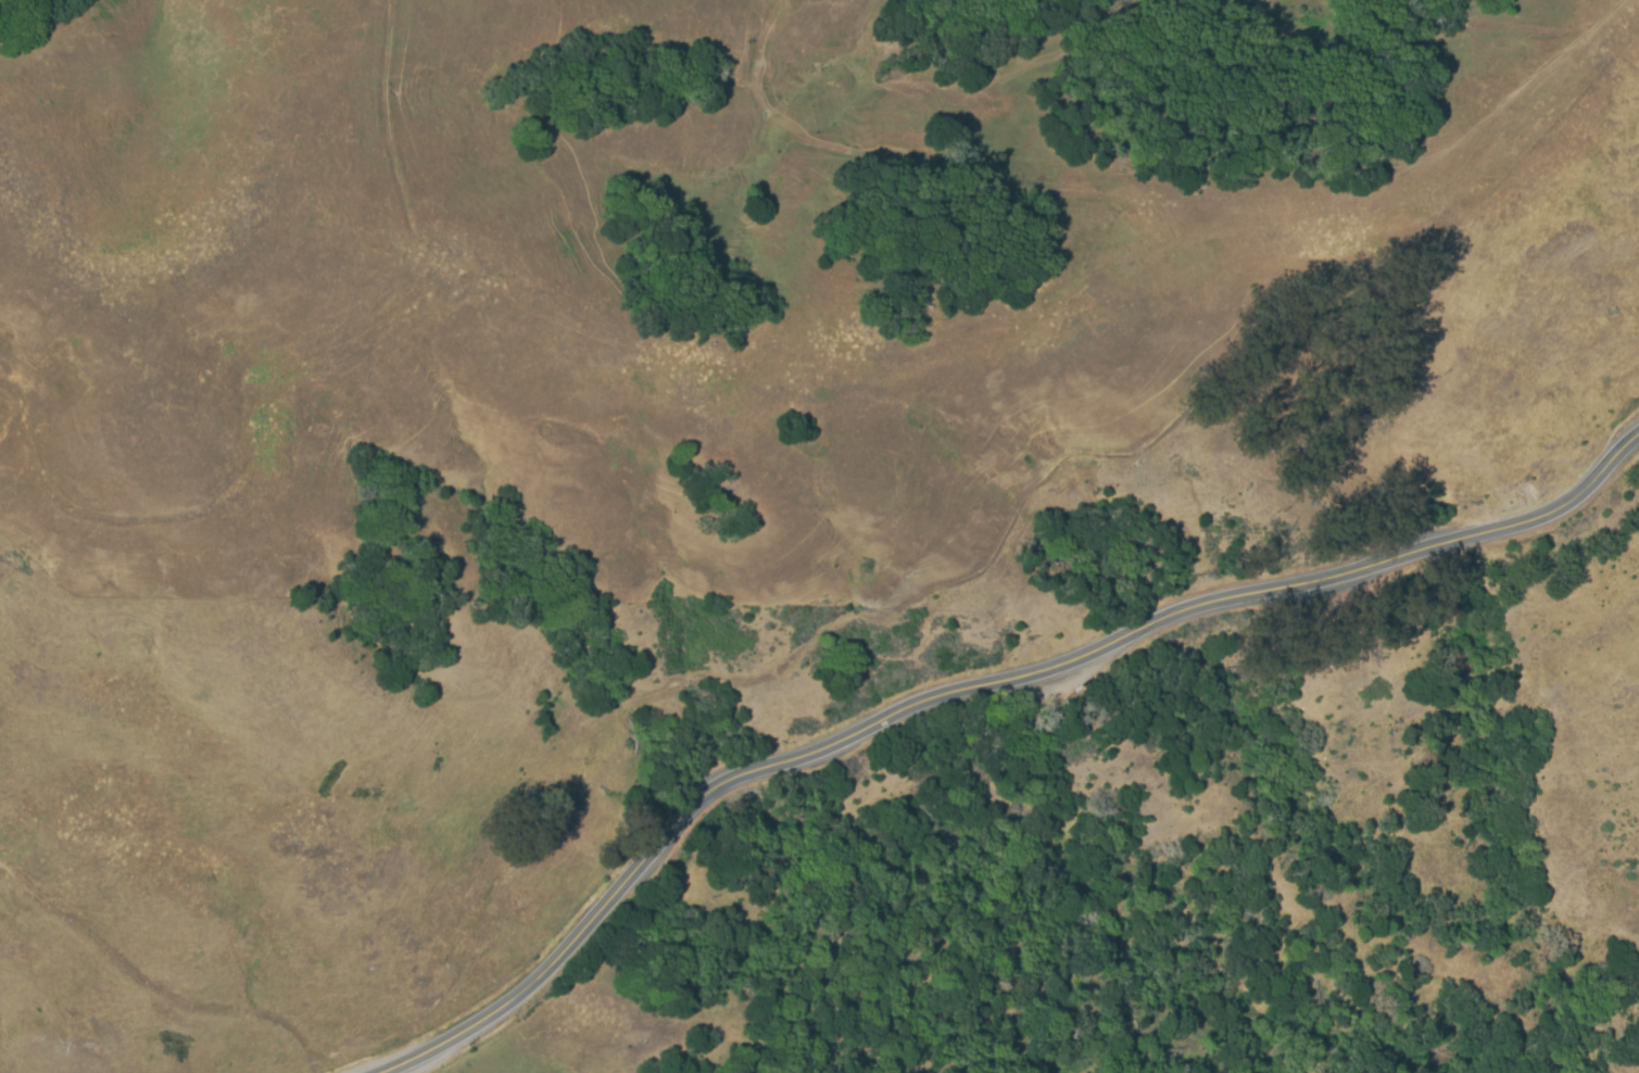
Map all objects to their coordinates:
road: (974, 687)

